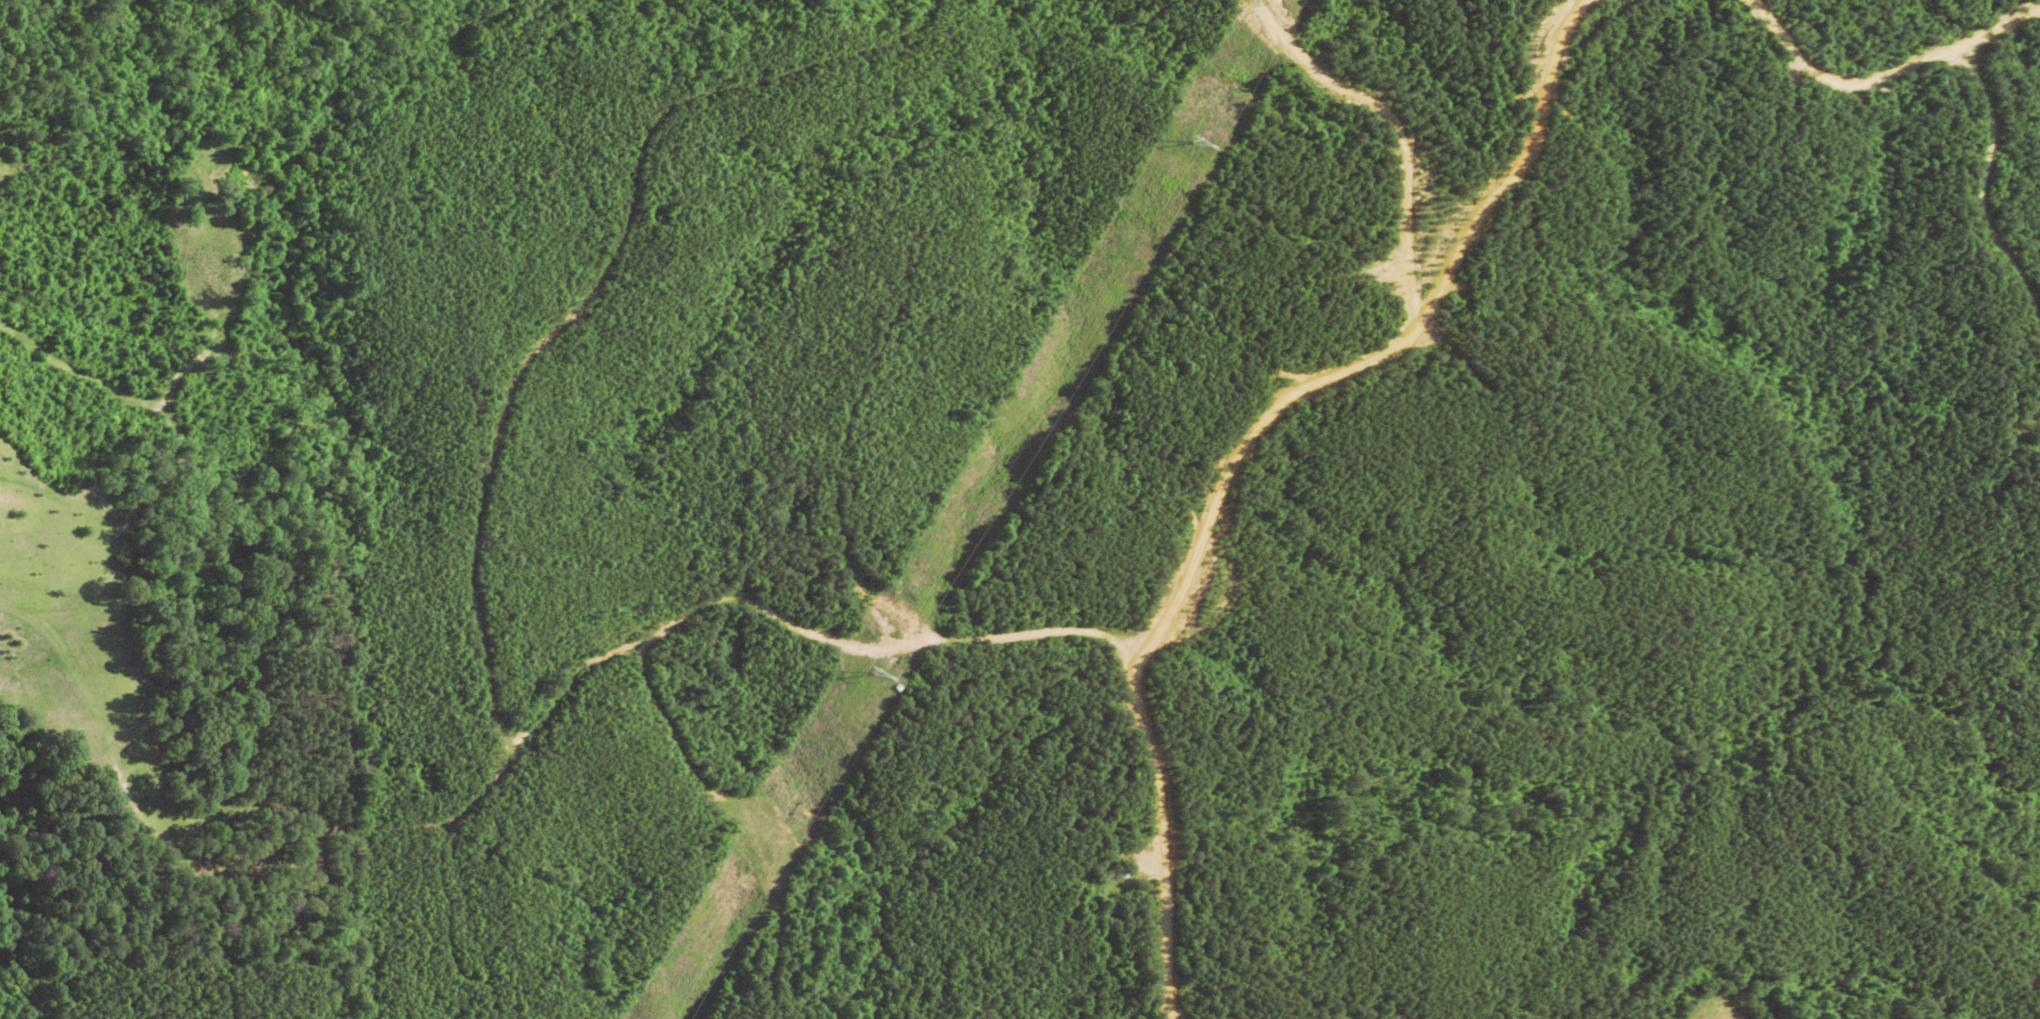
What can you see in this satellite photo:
power tower: (1194, 143)
power tower: (875, 672)

